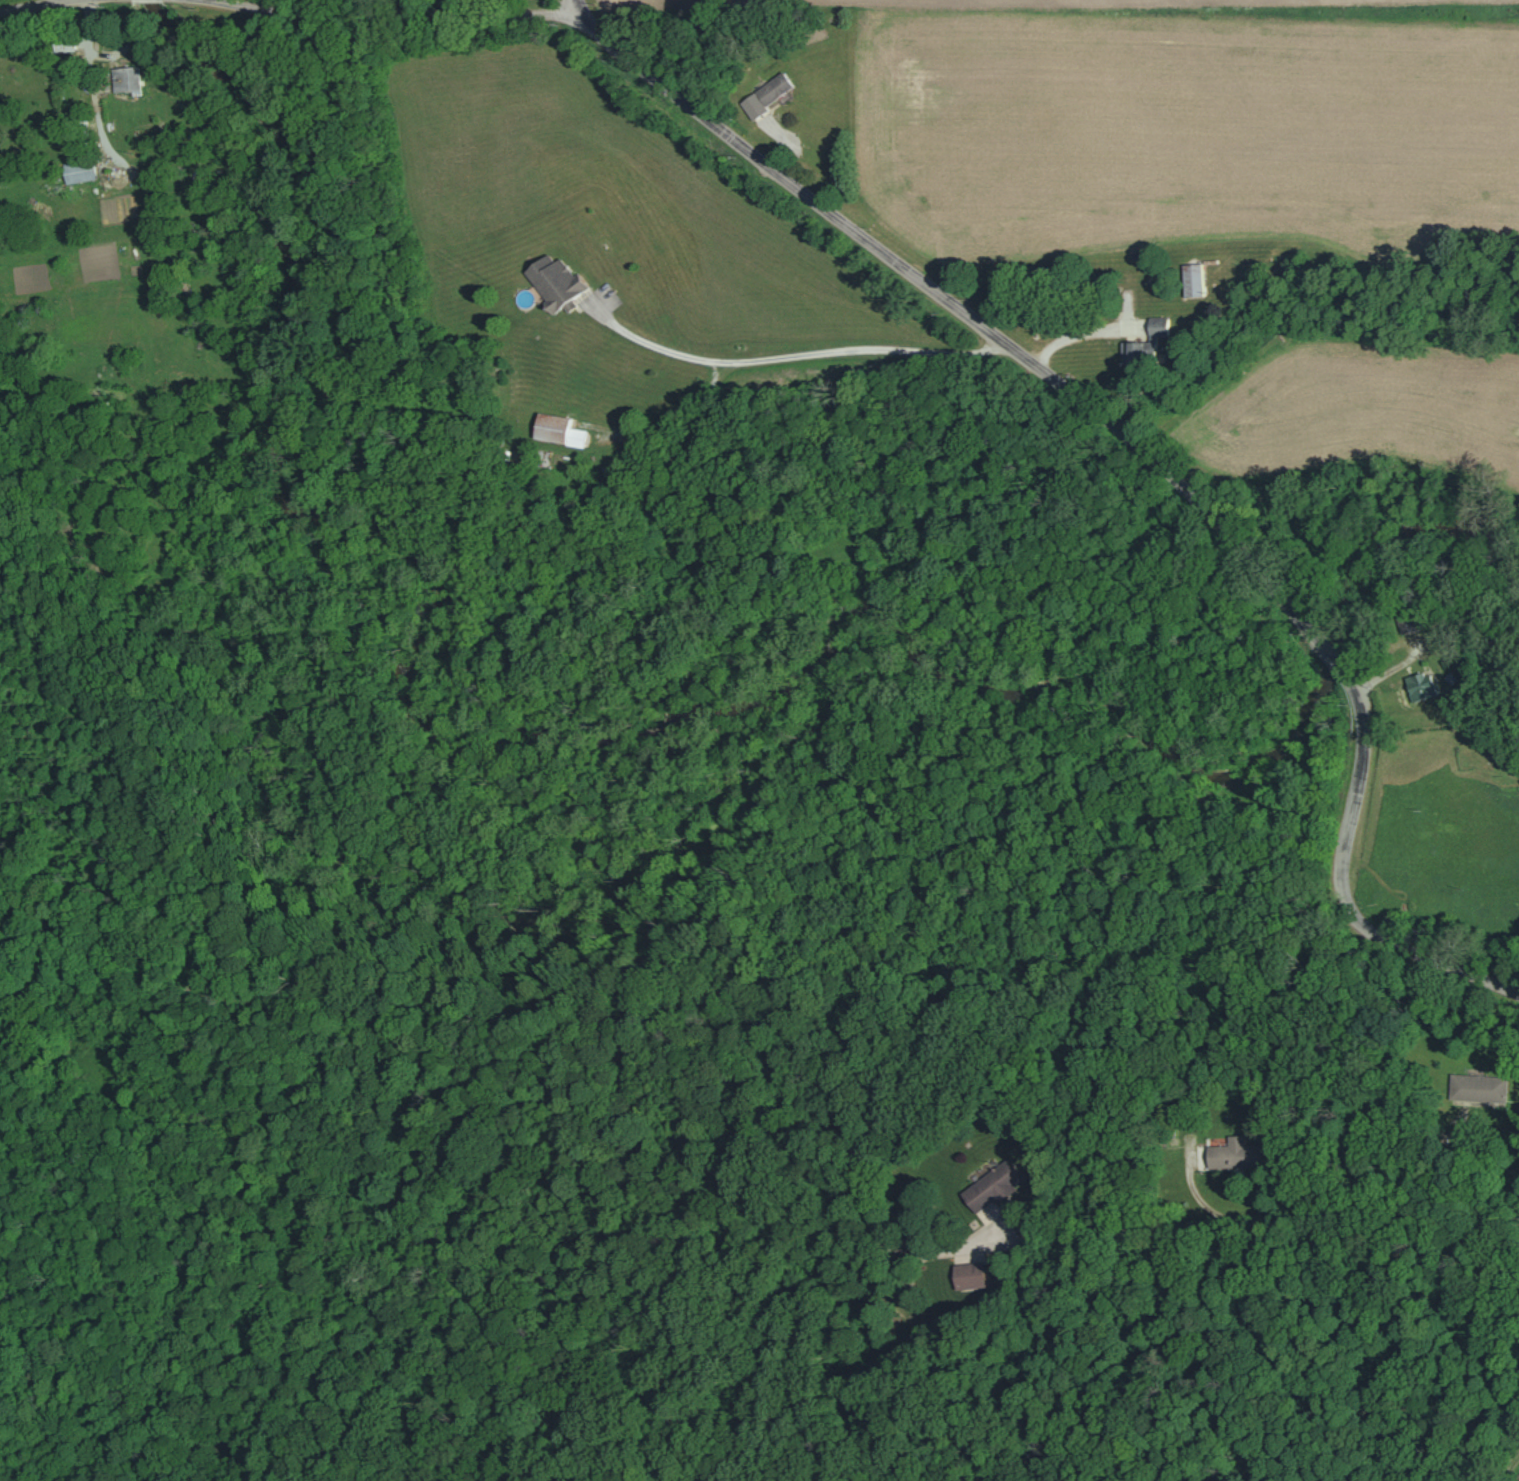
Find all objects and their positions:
road: (32, 5)
road: (397, 13)
building: (123, 78)
building: (763, 95)
building: (76, 170)
building: (1190, 279)
building: (553, 282)
road: (958, 308)
road: (783, 341)
building: (1142, 343)
building: (555, 430)
building: (1406, 623)
road: (1338, 664)
building: (1418, 686)
road: (1348, 891)
road: (1178, 973)
building: (1476, 1087)
building: (1233, 1154)
building: (990, 1185)
building: (967, 1275)

